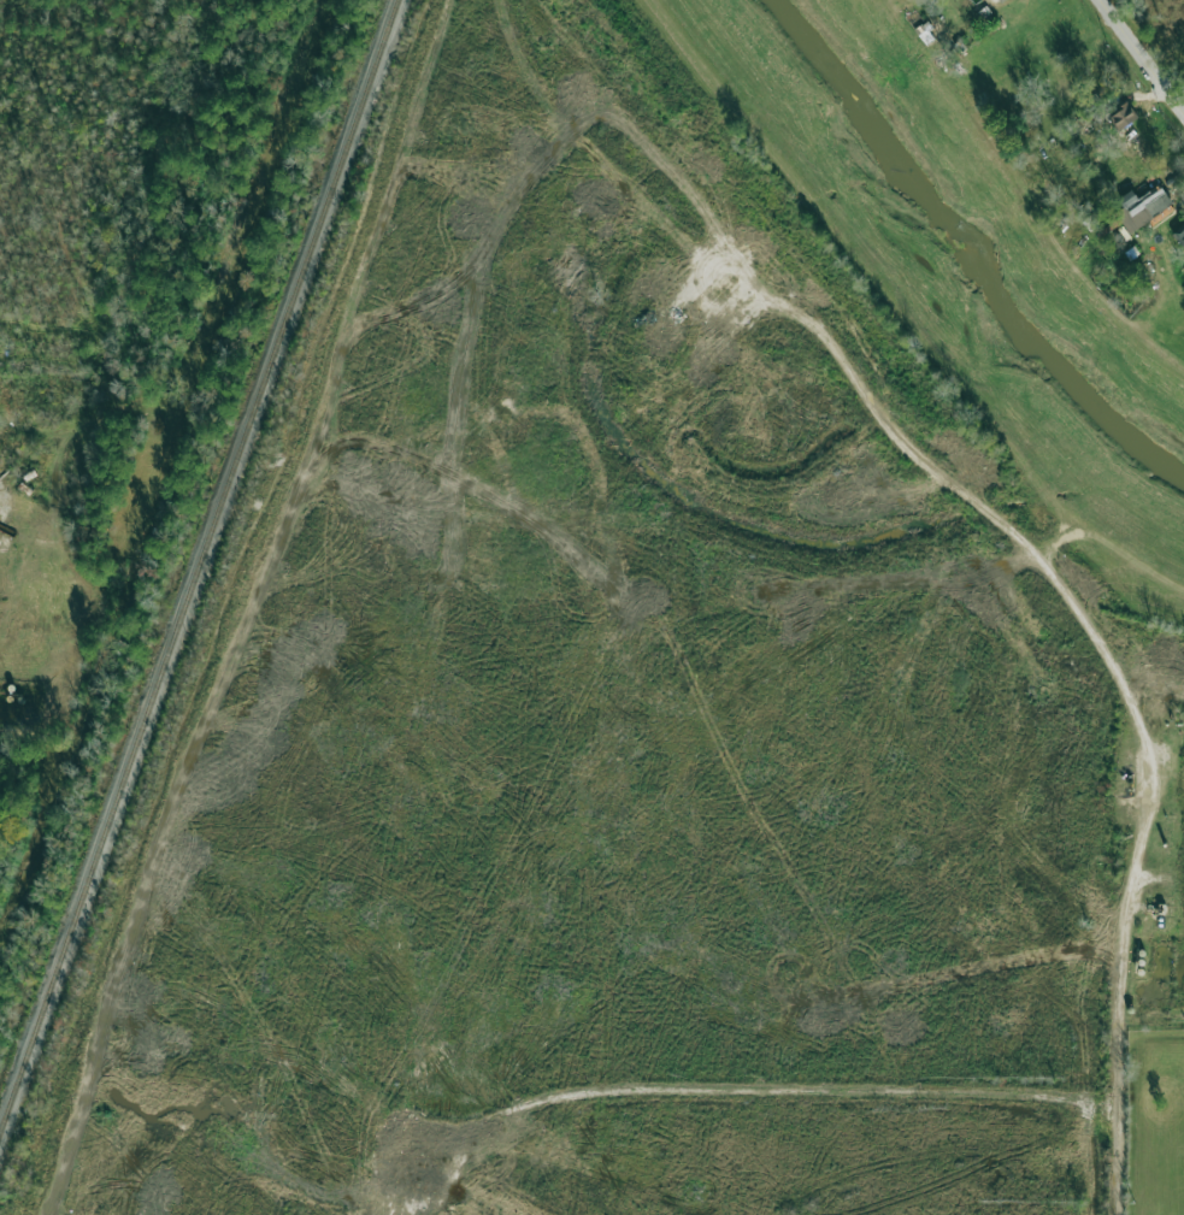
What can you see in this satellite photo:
building: (1001, 0)
road: (1141, 57)
building: (1123, 116)
building: (1143, 208)
building: (1179, 235)
river: (965, 260)
railway: (199, 566)
road: (1126, 567)
road: (1125, 682)
road: (770, 1083)
park: (1155, 1122)
park: (1174, 1184)

